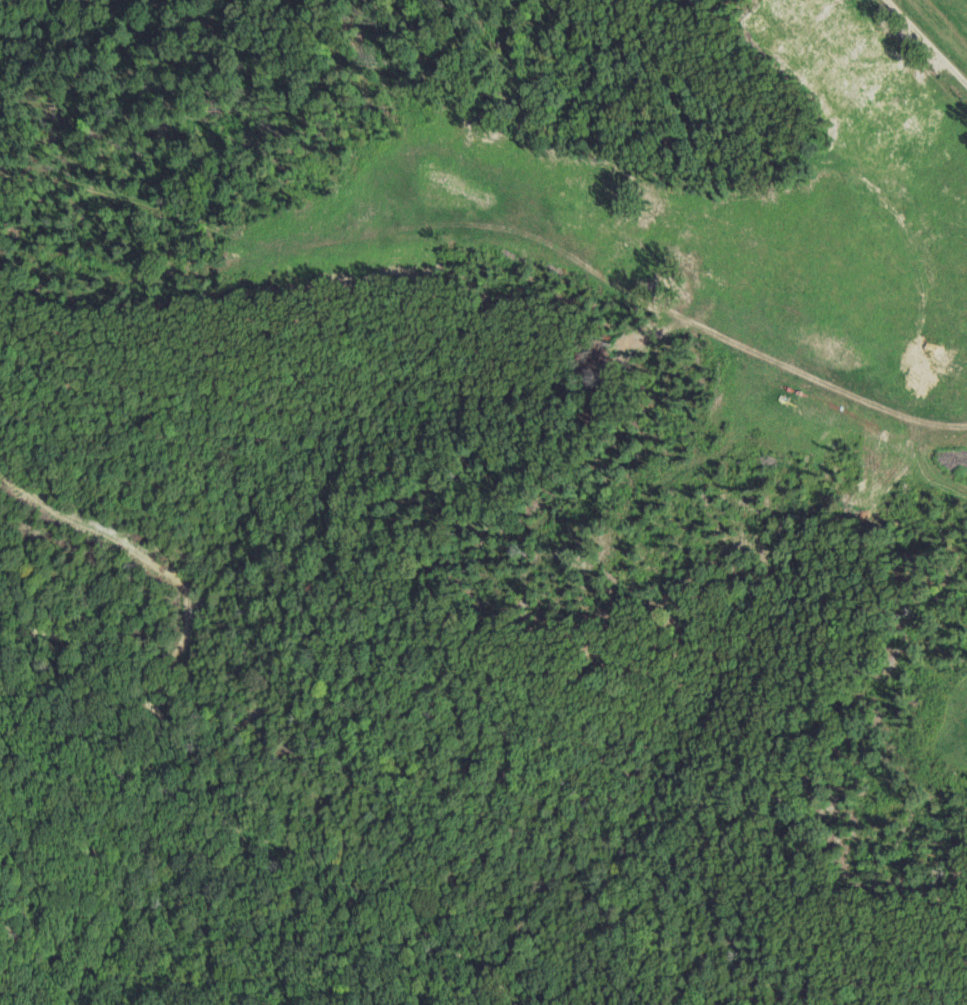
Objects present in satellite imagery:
road: (925, 44)

